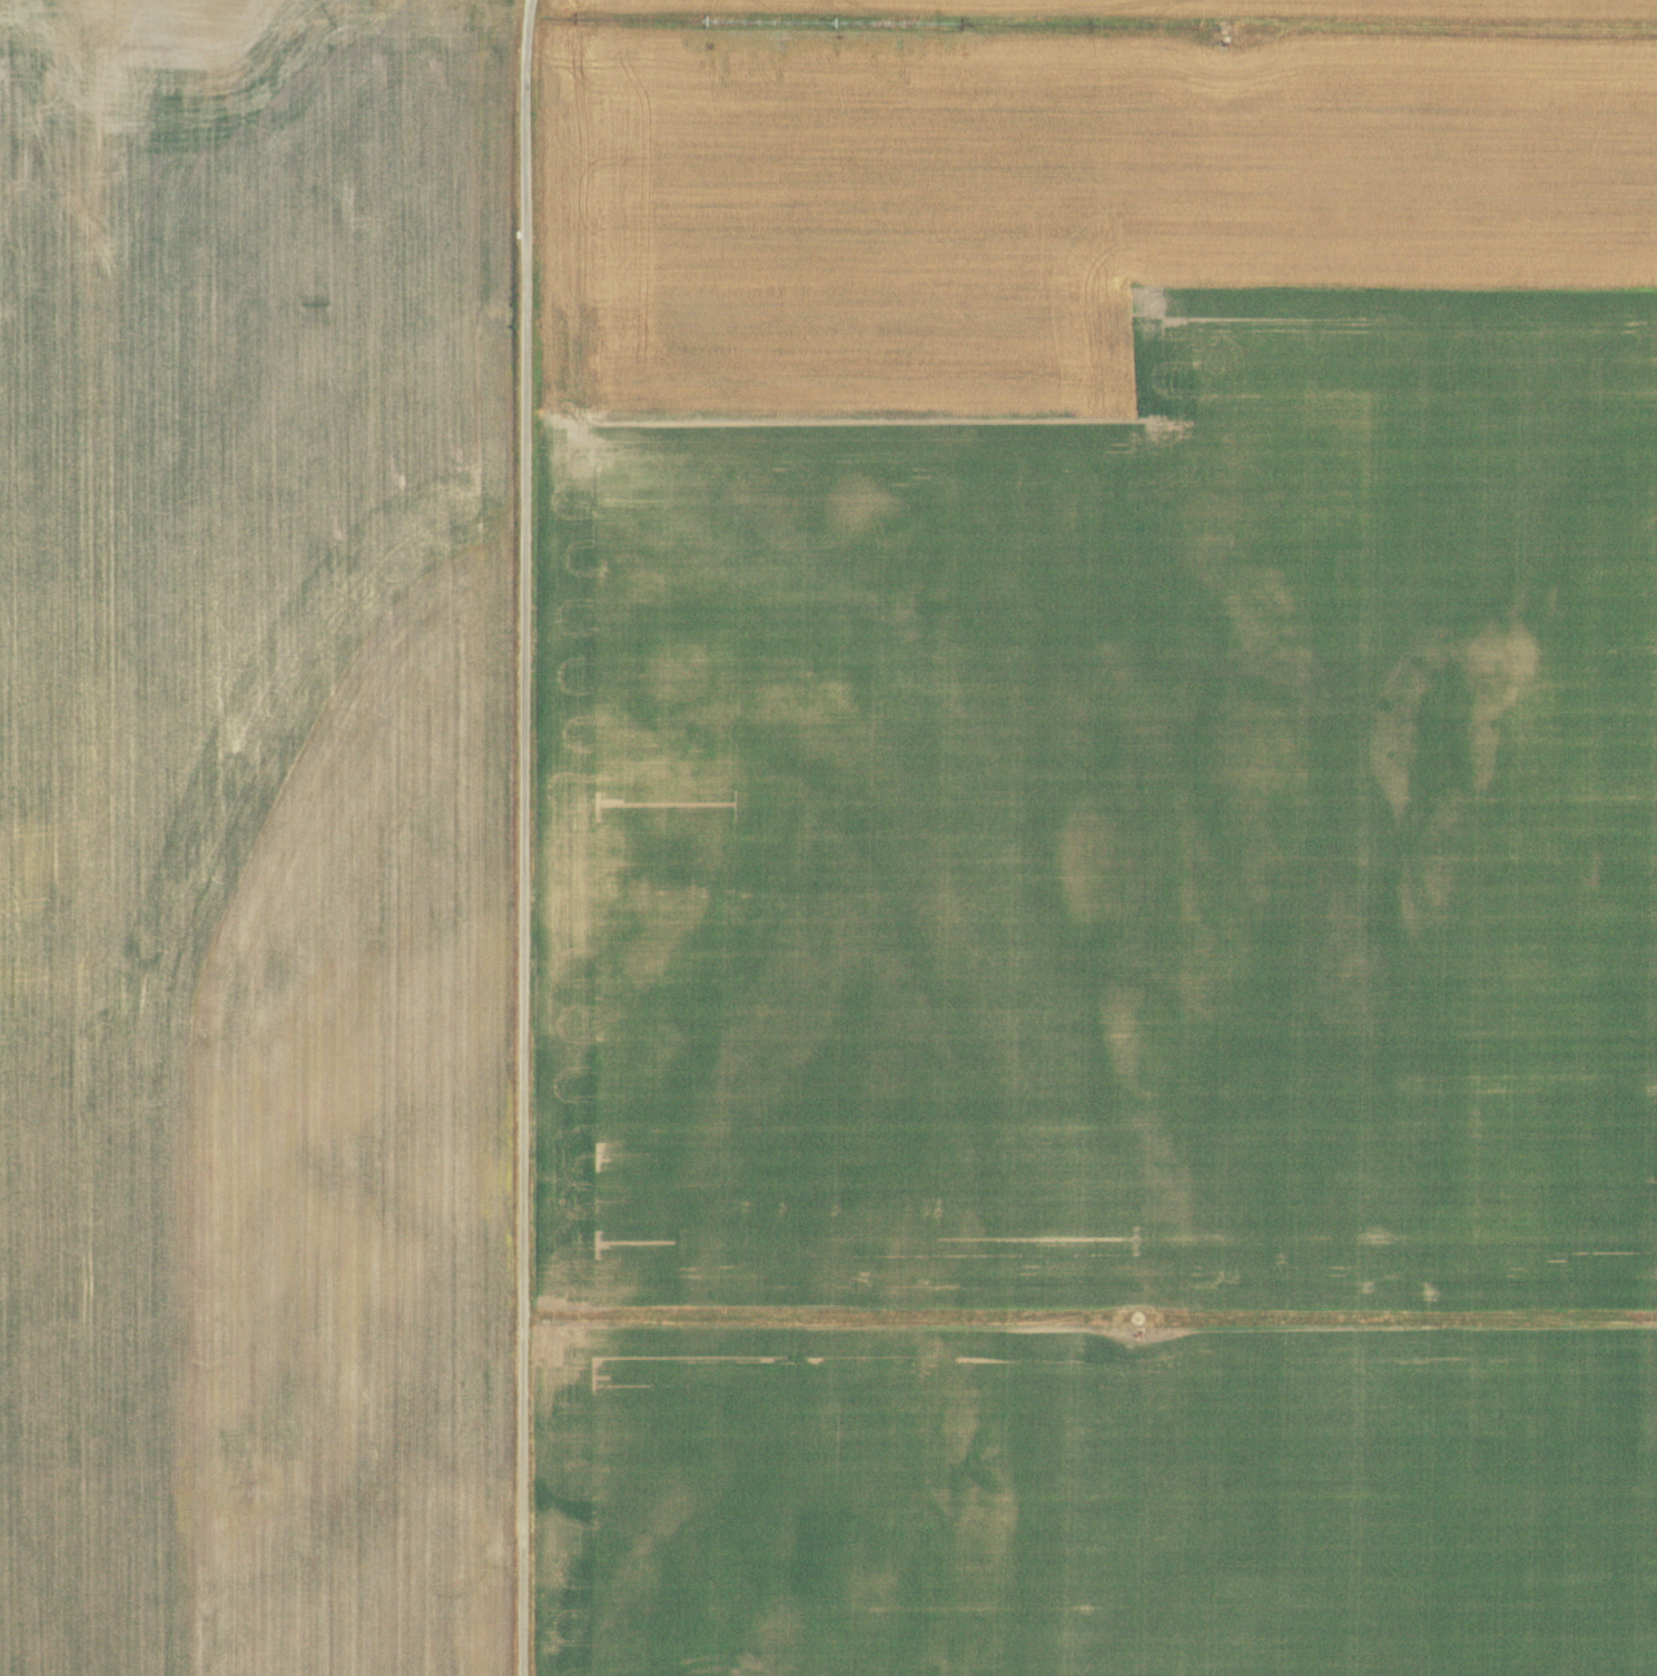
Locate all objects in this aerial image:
road: (1093, 28)
road: (524, 837)
road: (1089, 1325)

